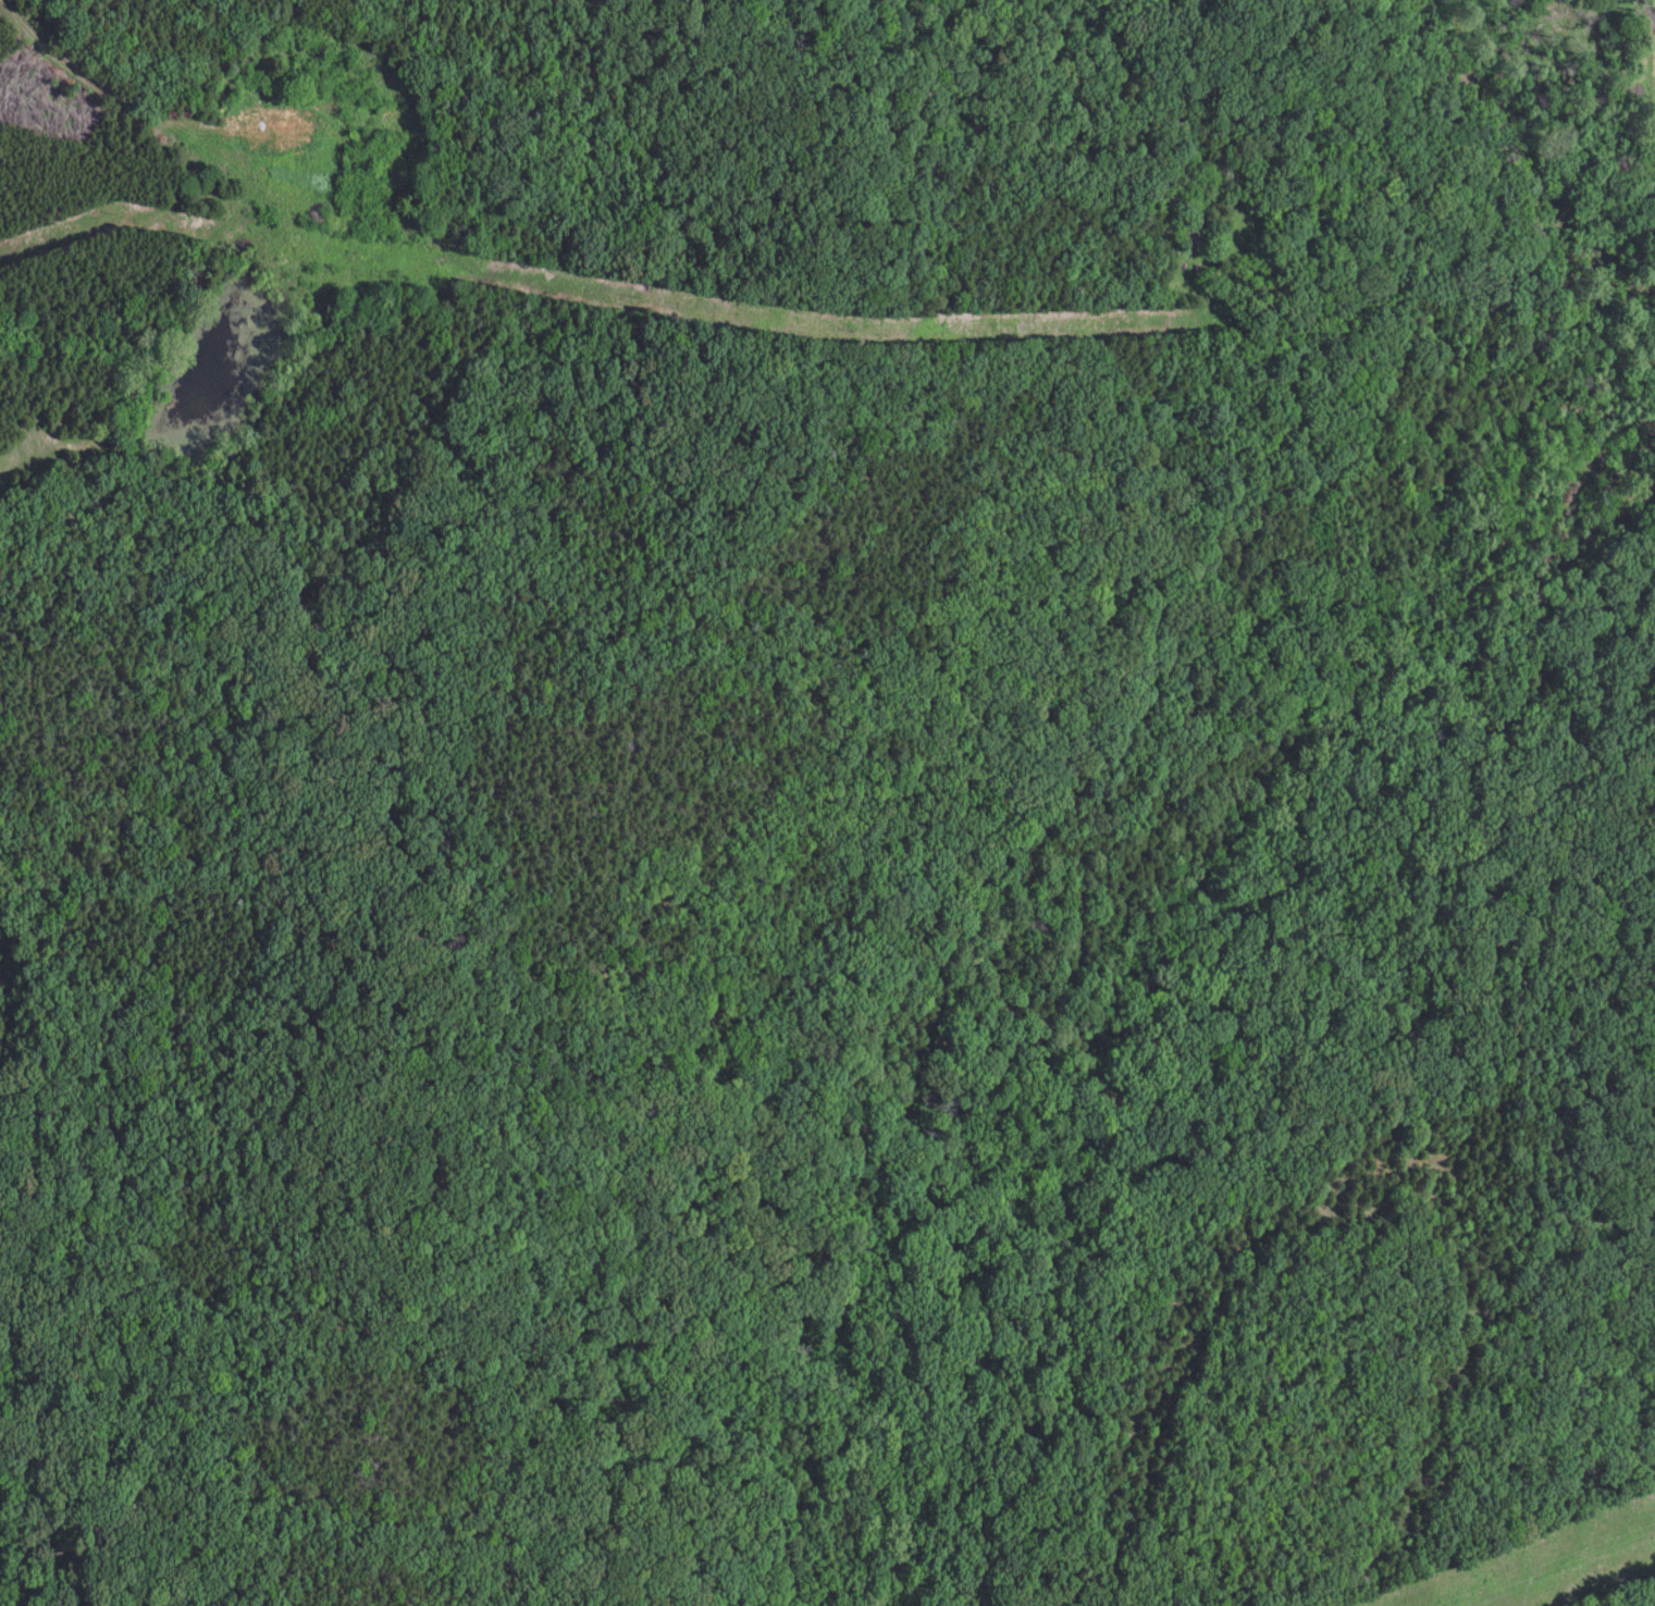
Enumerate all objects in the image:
road: (560, 283)

